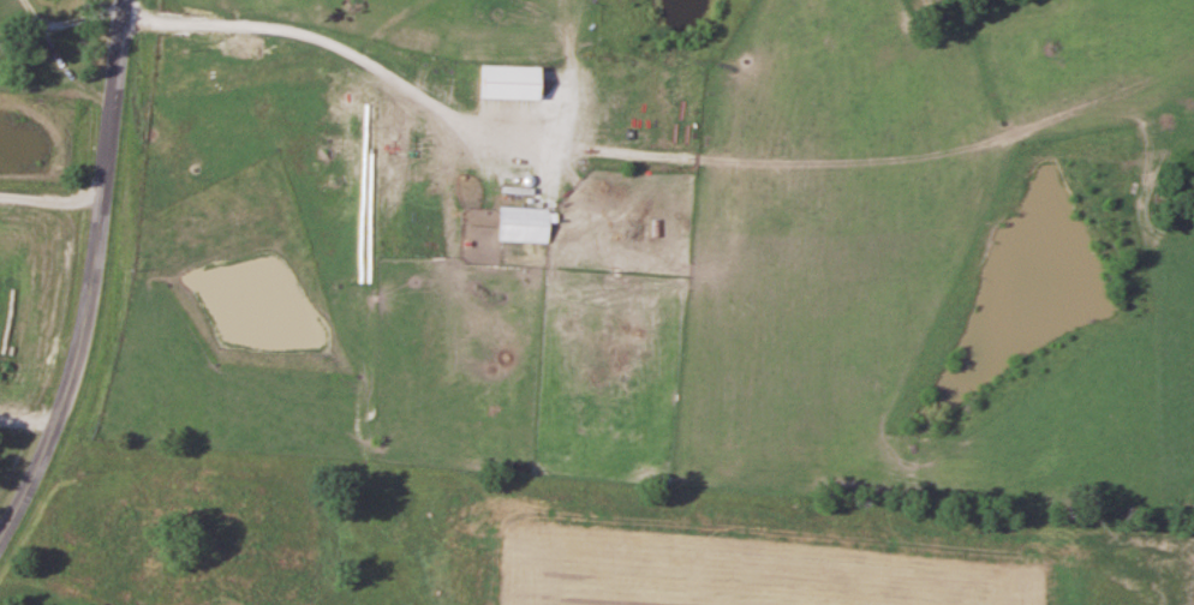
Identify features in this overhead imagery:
road: (333, 48)
building: (512, 83)
building: (525, 226)
road: (92, 275)

